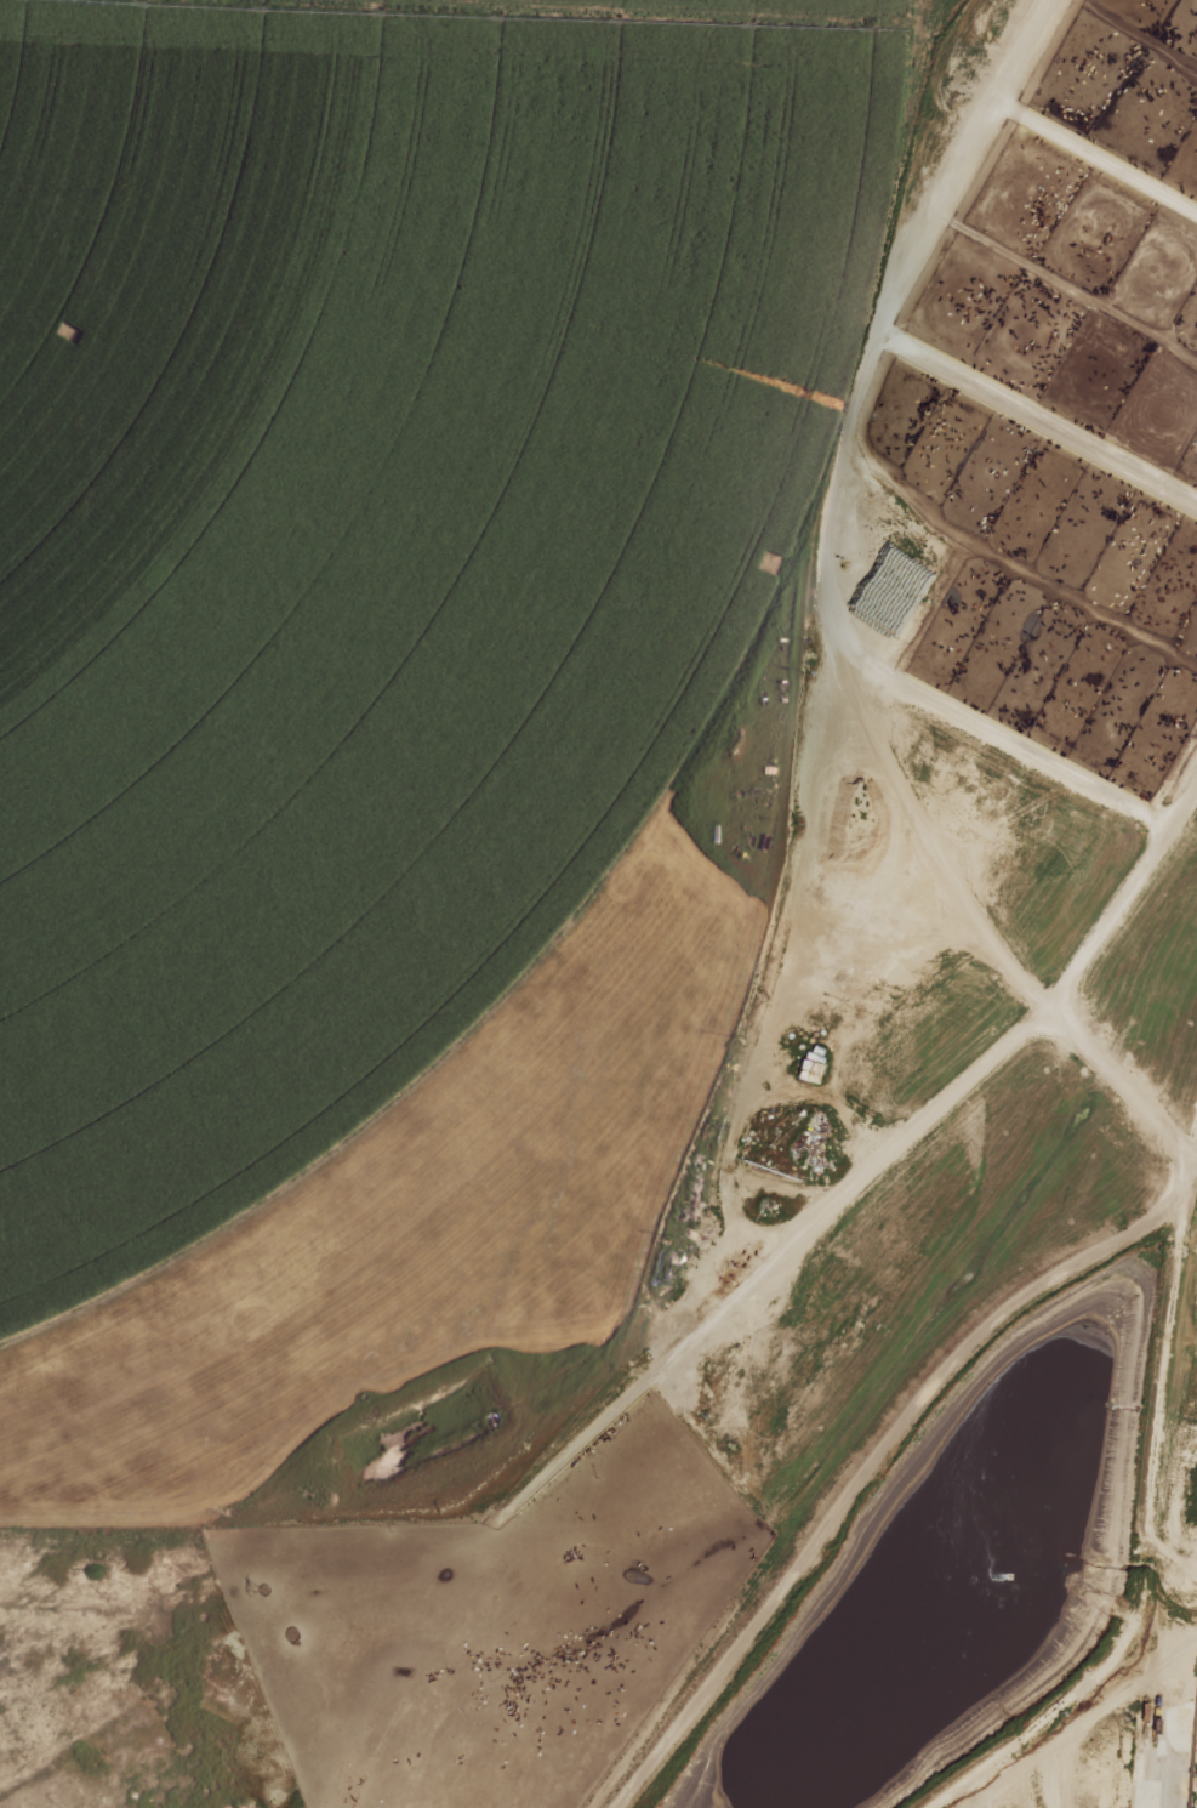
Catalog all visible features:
road: (1064, 1721)

